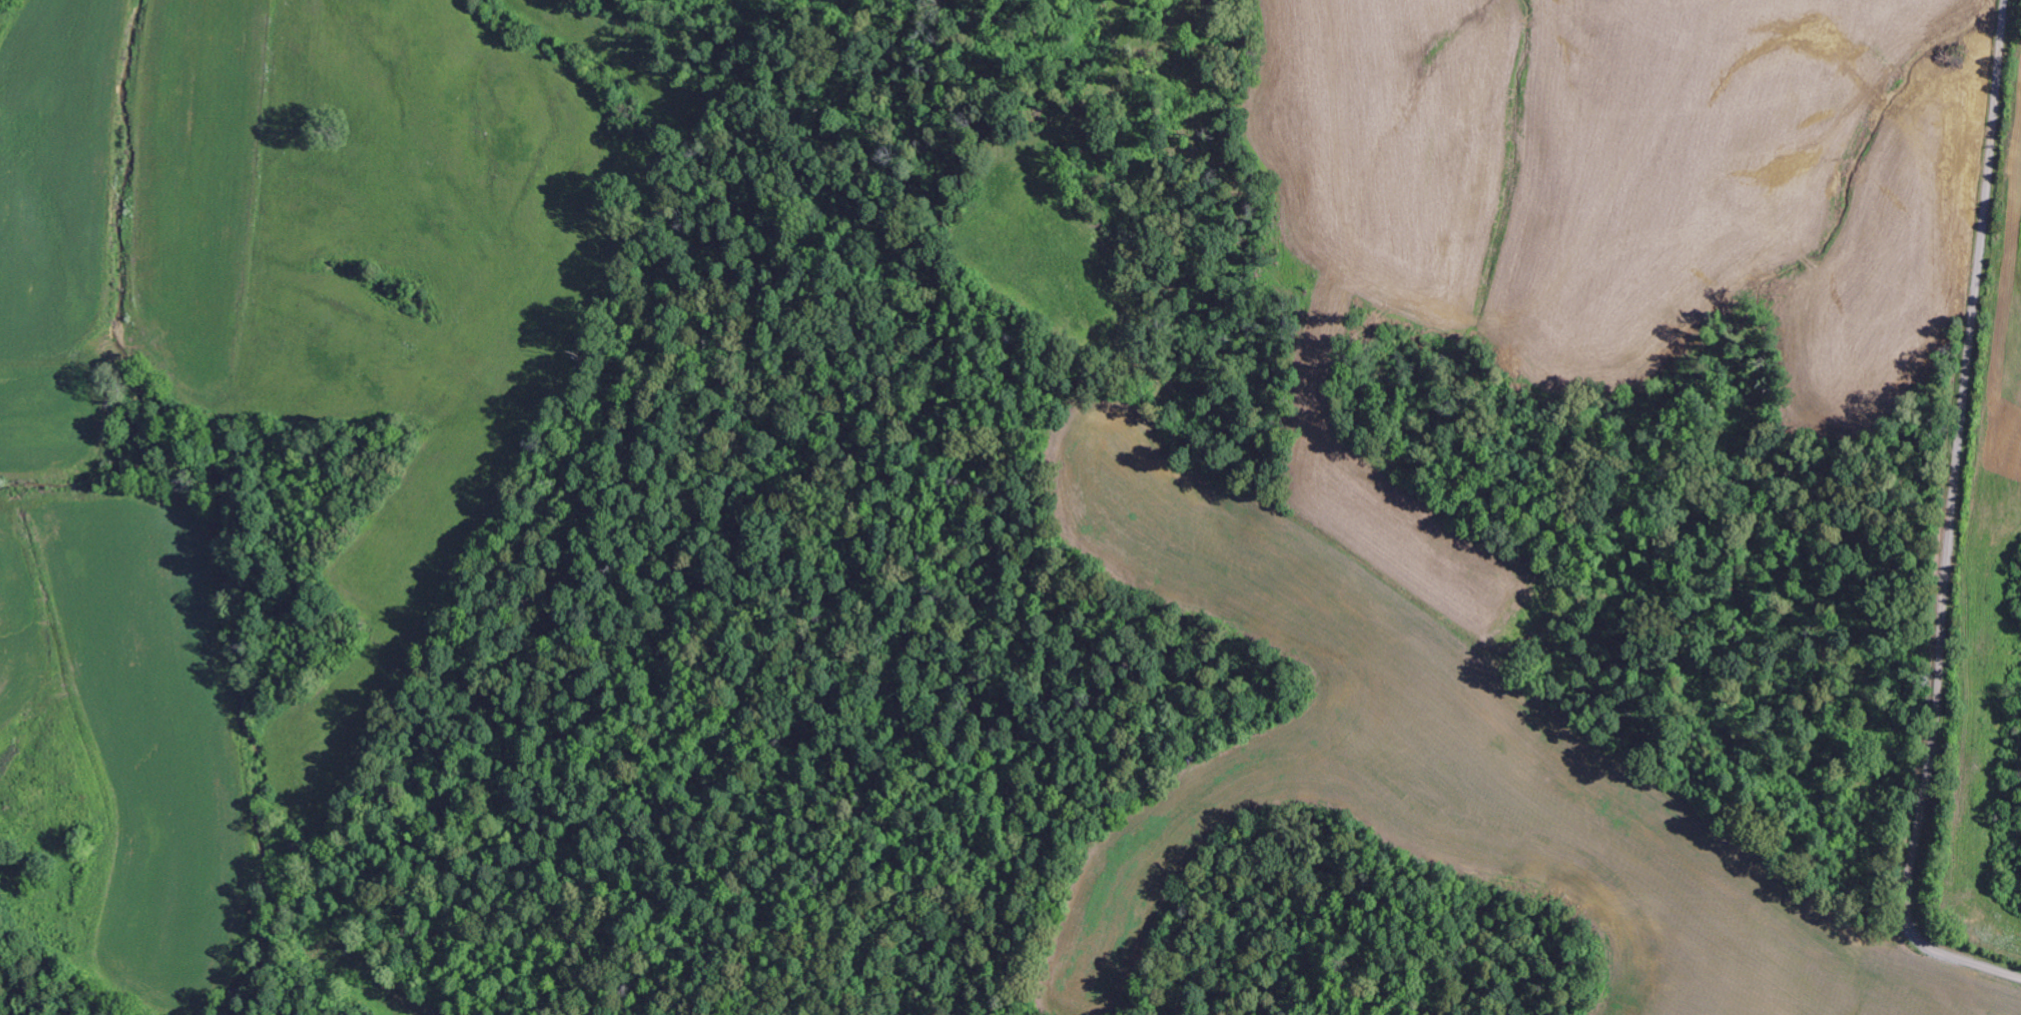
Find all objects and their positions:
road: (1953, 523)

